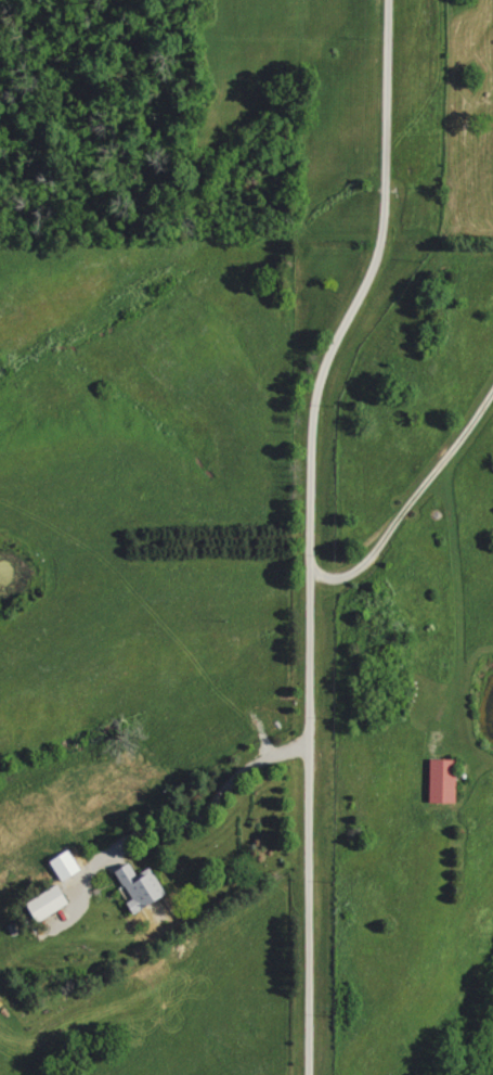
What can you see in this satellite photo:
road: (412, 498)
road: (309, 529)
building: (438, 780)
road: (196, 822)
building: (145, 888)
building: (52, 903)

